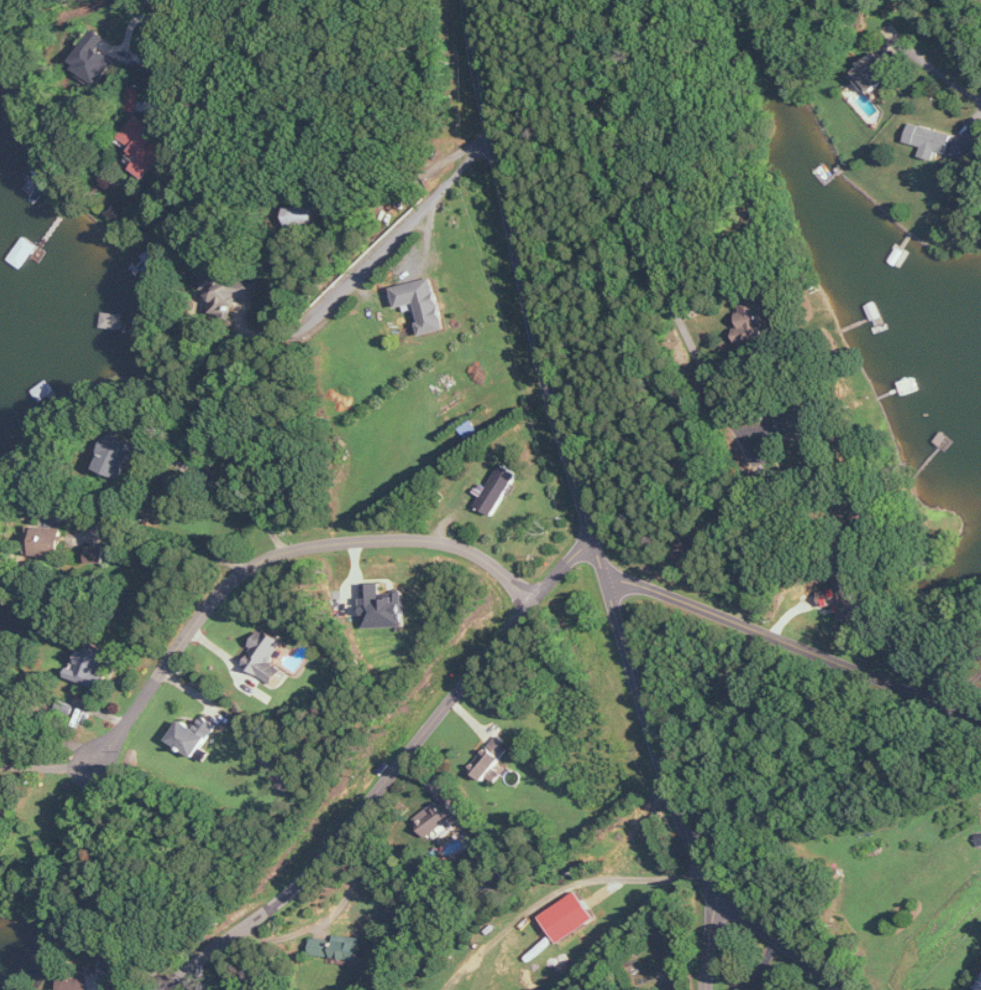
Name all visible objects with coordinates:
road: (170, 23)
building: (96, 55)
road: (933, 65)
building: (875, 74)
building: (136, 100)
building: (931, 140)
building: (146, 146)
building: (966, 148)
building: (302, 215)
road: (395, 238)
building: (226, 293)
road: (675, 297)
building: (424, 304)
building: (755, 320)
building: (120, 456)
building: (500, 490)
road: (584, 526)
building: (48, 540)
road: (272, 554)
building: (842, 600)
building: (384, 607)
road: (783, 643)
building: (267, 656)
building: (93, 666)
building: (195, 736)
building: (492, 758)
road: (45, 767)
road: (385, 781)
building: (438, 817)
road: (562, 888)
building: (571, 917)
road: (711, 937)
building: (339, 948)
building: (114, 963)
road: (764, 963)
building: (77, 984)

